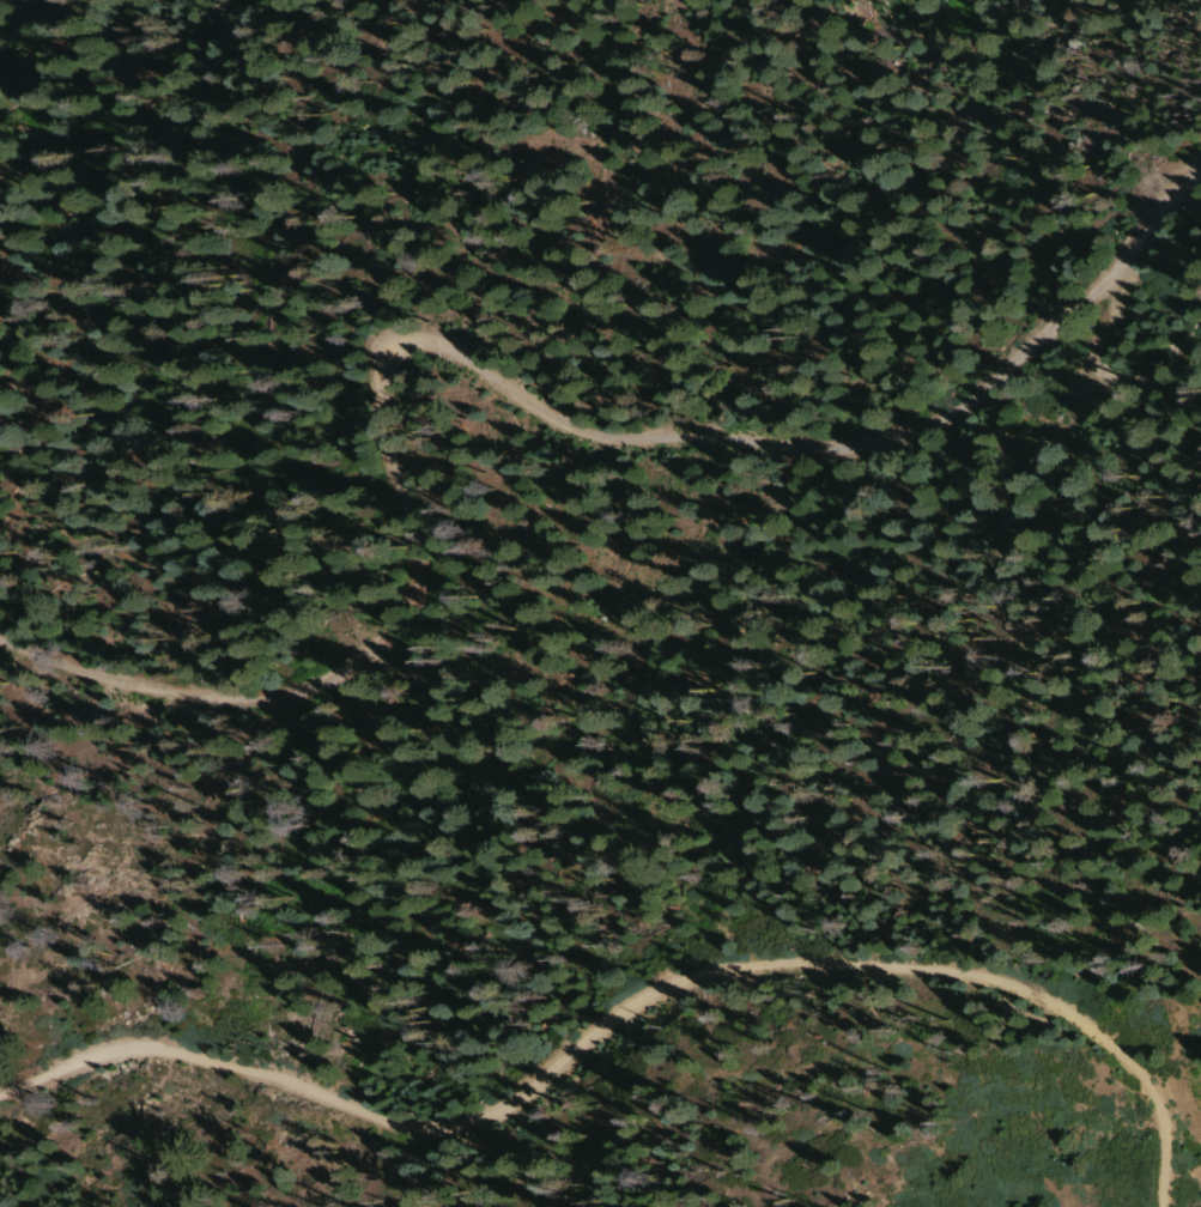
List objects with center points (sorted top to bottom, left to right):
road: (1103, 329)
road: (1170, 356)
road: (619, 425)
road: (115, 660)
road: (629, 1002)

